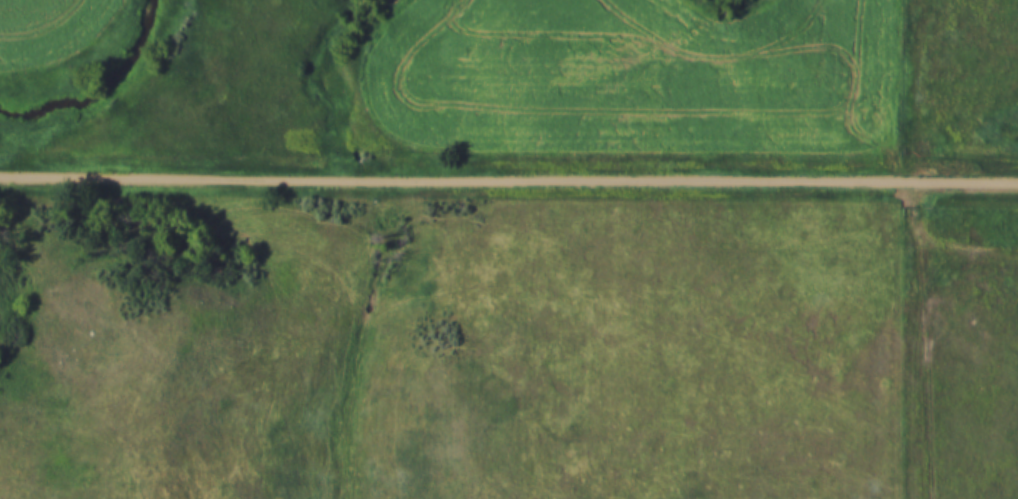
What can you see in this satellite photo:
crop: (47, 26)
crop: (638, 78)
road: (509, 183)
road: (949, 232)

